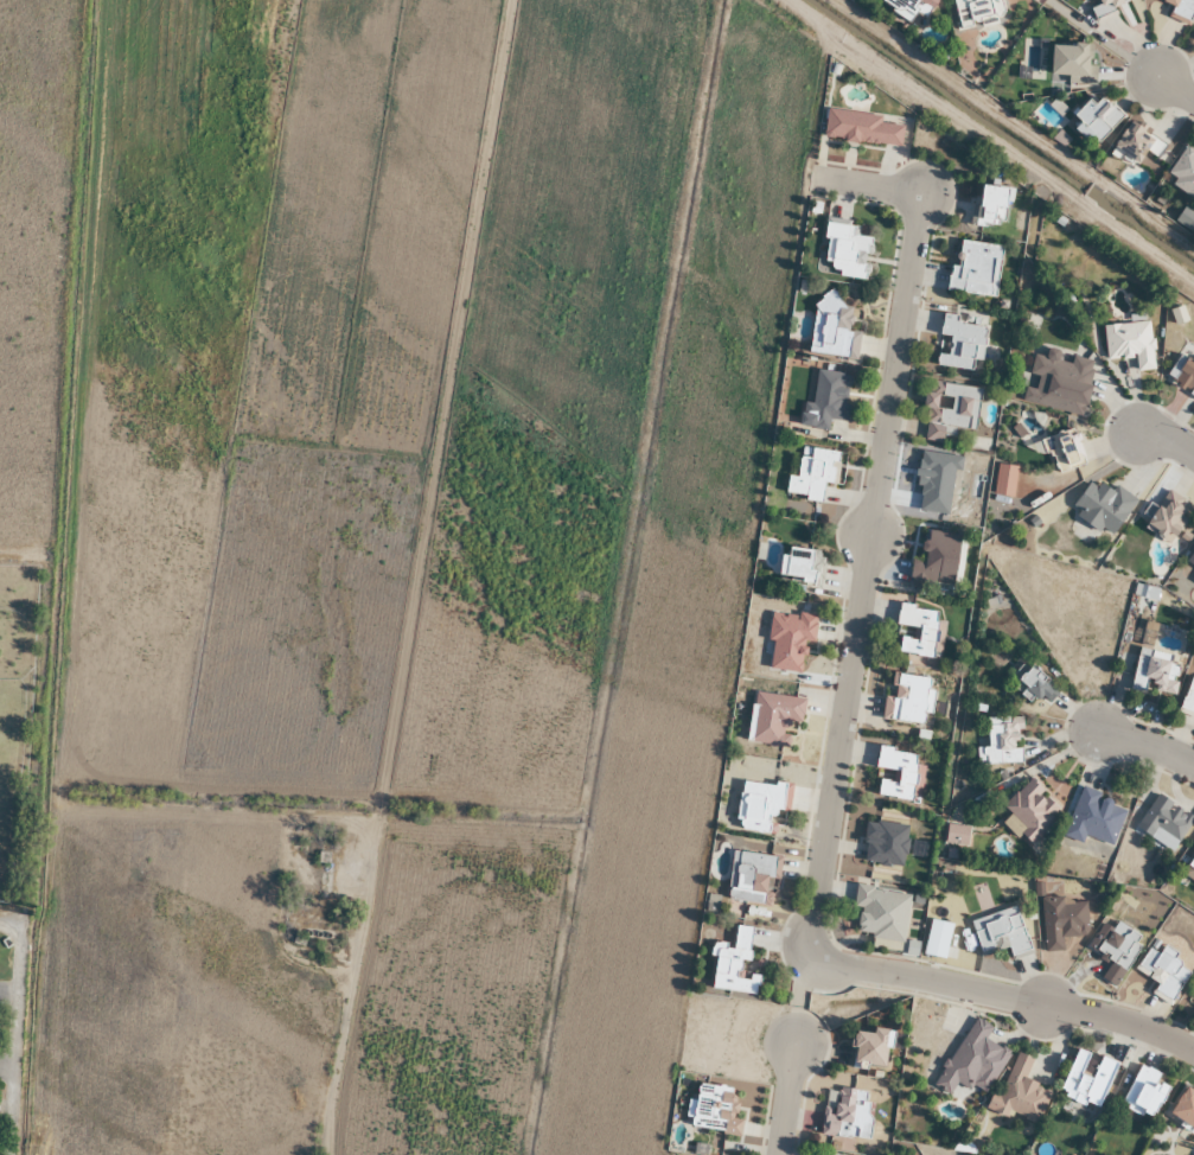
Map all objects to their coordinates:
building: (908, 7)
building: (1104, 8)
building: (976, 9)
building: (1180, 11)
building: (1193, 43)
building: (1070, 63)
road: (1174, 88)
building: (1093, 120)
building: (861, 129)
building: (1135, 143)
building: (1182, 172)
building: (990, 205)
building: (1185, 221)
building: (843, 250)
building: (975, 269)
building: (832, 330)
building: (1129, 343)
building: (959, 345)
building: (1185, 376)
building: (1059, 382)
building: (825, 401)
building: (947, 409)
road: (1168, 442)
building: (1062, 452)
building: (812, 474)
building: (1102, 508)
building: (1167, 516)
building: (933, 559)
building: (1190, 559)
building: (798, 566)
building: (917, 631)
building: (788, 640)
building: (1154, 676)
building: (1033, 687)
building: (1188, 700)
building: (908, 701)
building: (773, 719)
building: (1001, 742)
road: (1147, 745)
road: (835, 772)
building: (898, 774)
building: (760, 806)
building: (1028, 813)
building: (1093, 819)
building: (1166, 821)
building: (956, 835)
building: (883, 844)
building: (1190, 868)
building: (751, 878)
building: (880, 913)
building: (1061, 921)
building: (1002, 937)
building: (733, 965)
building: (1161, 974)
building: (1192, 993)
building: (870, 1048)
building: (978, 1053)
building: (1084, 1085)
building: (1144, 1092)
building: (1020, 1095)
road: (780, 1103)
building: (714, 1110)
building: (1183, 1110)
building: (850, 1113)

